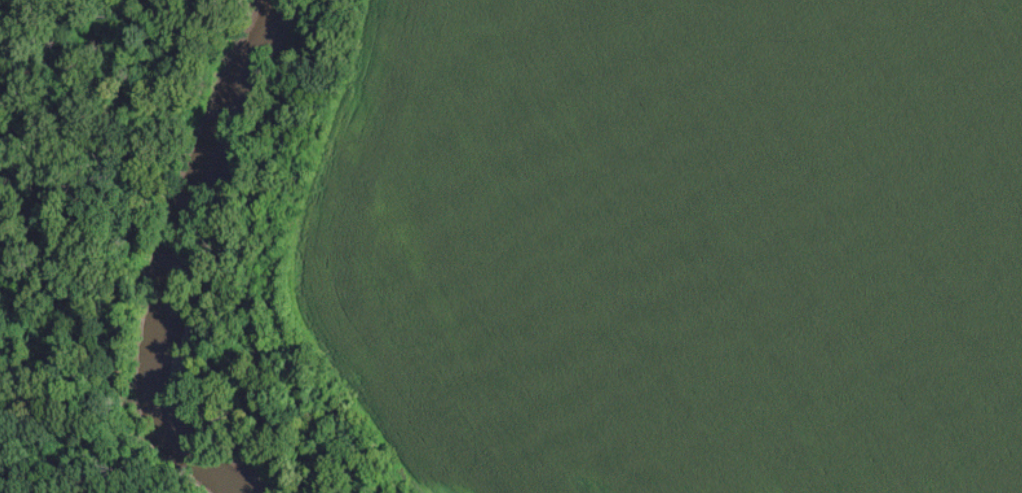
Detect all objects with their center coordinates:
river: (169, 250)

